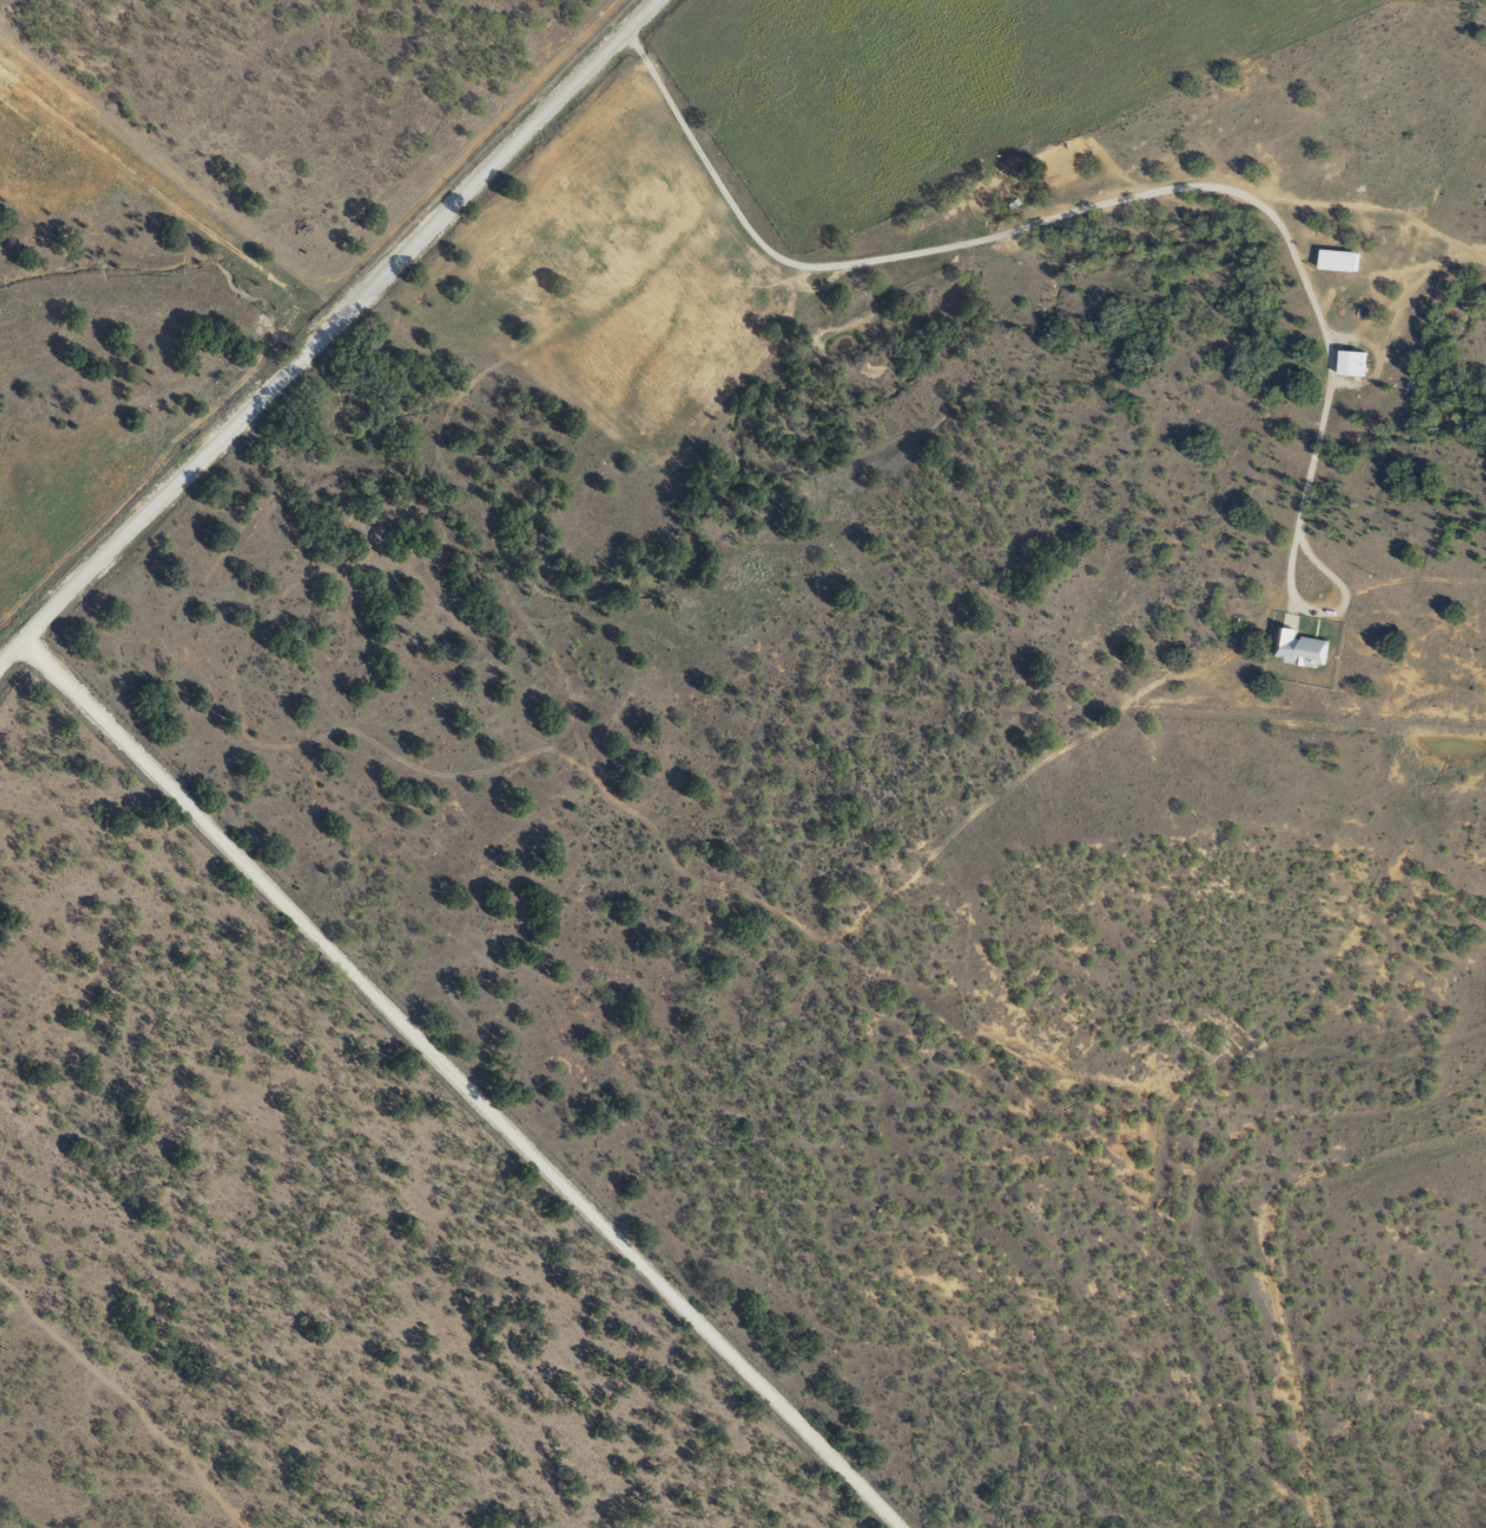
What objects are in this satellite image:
road: (628, 37)
road: (1014, 227)
building: (1339, 259)
building: (1352, 362)
road: (300, 368)
building: (1299, 645)
road: (441, 1099)

